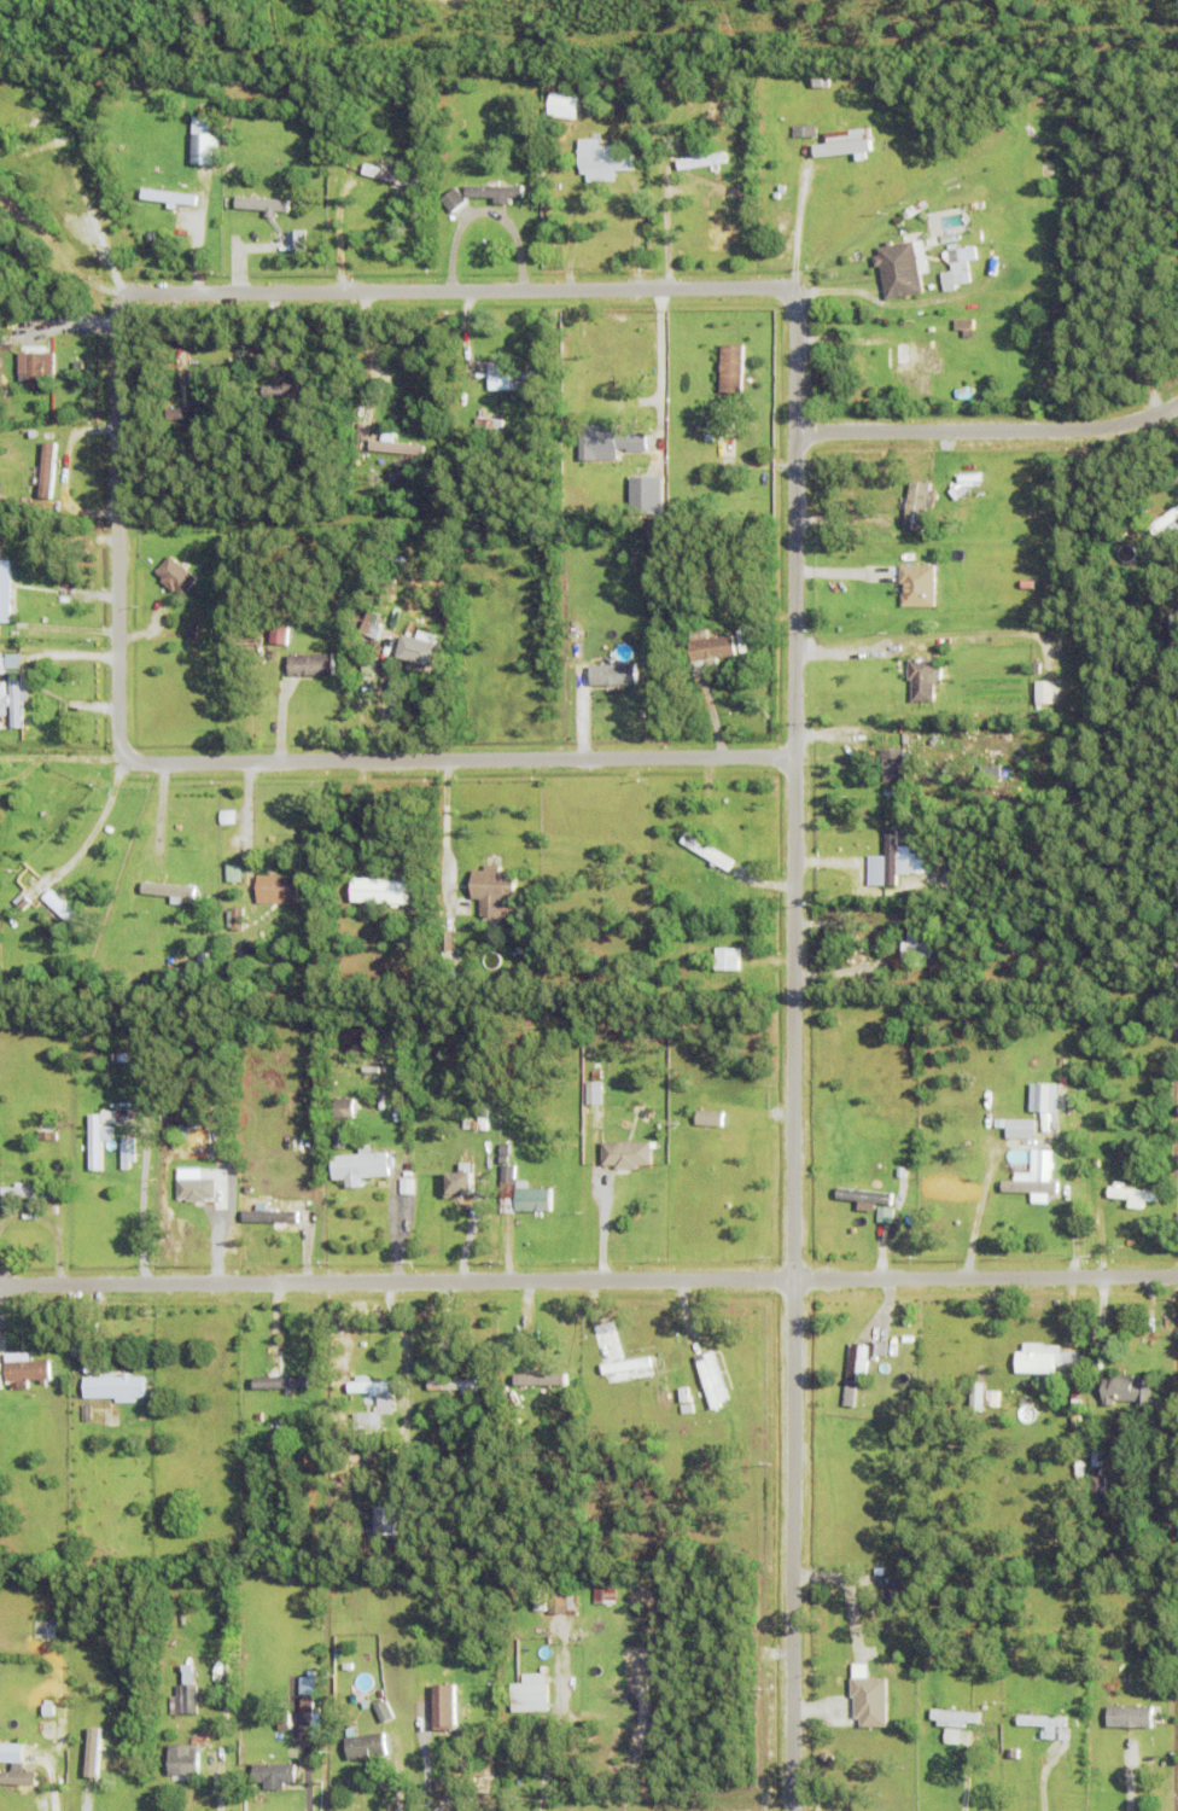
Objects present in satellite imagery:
building: (822, 81)
building: (560, 104)
building: (828, 106)
building: (804, 130)
building: (844, 144)
building: (43, 146)
building: (205, 147)
building: (602, 158)
building: (701, 161)
building: (389, 175)
road: (603, 190)
building: (494, 191)
building: (566, 192)
building: (737, 192)
building: (169, 196)
building: (453, 199)
building: (262, 204)
building: (976, 205)
building: (911, 210)
building: (151, 237)
building: (947, 237)
building: (298, 240)
building: (1172, 241)
building: (956, 266)
building: (899, 269)
road: (126, 296)
building: (964, 326)
building: (997, 326)
building: (211, 353)
building: (917, 366)
building: (730, 368)
building: (35, 369)
road: (658, 374)
building: (506, 375)
building: (282, 390)
building: (966, 391)
building: (301, 394)
building: (203, 397)
building: (187, 410)
building: (204, 413)
building: (724, 424)
building: (488, 425)
building: (69, 426)
road: (989, 429)
building: (608, 442)
building: (393, 446)
building: (45, 474)
building: (7, 489)
building: (646, 495)
building: (966, 502)
building: (917, 505)
building: (1164, 522)
building: (175, 576)
building: (840, 583)
building: (916, 586)
building: (5, 589)
building: (690, 590)
building: (748, 595)
building: (218, 599)
building: (395, 618)
building: (371, 628)
building: (279, 635)
building: (1173, 635)
building: (390, 640)
building: (740, 640)
building: (420, 651)
building: (708, 651)
building: (12, 662)
building: (310, 665)
building: (369, 669)
building: (612, 674)
building: (923, 679)
building: (1043, 692)
building: (4, 695)
building: (16, 698)
building: (949, 715)
building: (894, 765)
building: (0, 815)
building: (227, 817)
building: (707, 852)
building: (891, 858)
building: (909, 861)
building: (874, 870)
building: (233, 874)
building: (169, 890)
building: (278, 890)
building: (494, 891)
building: (380, 892)
building: (62, 908)
building: (681, 914)
building: (944, 918)
building: (237, 919)
building: (978, 934)
building: (281, 941)
building: (915, 947)
building: (729, 960)
building: (188, 1082)
building: (591, 1093)
building: (1042, 1097)
building: (344, 1110)
building: (106, 1116)
building: (710, 1119)
building: (46, 1122)
building: (1015, 1124)
building: (474, 1126)
building: (339, 1128)
building: (1021, 1134)
building: (46, 1136)
building: (95, 1141)
building: (339, 1141)
building: (310, 1142)
building: (505, 1149)
building: (127, 1152)
building: (625, 1154)
building: (503, 1160)
building: (361, 1167)
building: (1036, 1180)
building: (407, 1184)
building: (459, 1187)
building: (191, 1189)
building: (507, 1190)
building: (27, 1193)
building: (1132, 1196)
building: (532, 1199)
building: (865, 1199)
building: (315, 1200)
building: (269, 1216)
road: (601, 1225)
building: (435, 1240)
building: (275, 1251)
road: (985, 1277)
road: (396, 1282)
road: (793, 1283)
building: (908, 1340)
building: (1044, 1359)
building: (861, 1368)
building: (25, 1370)
building: (0, 1380)
building: (712, 1380)
building: (284, 1382)
building: (451, 1385)
building: (537, 1385)
building: (113, 1387)
building: (374, 1390)
building: (1129, 1391)
building: (684, 1396)
building: (1078, 1396)
building: (974, 1399)
building: (991, 1399)
building: (687, 1409)
building: (87, 1414)
building: (438, 1415)
building: (360, 1420)
building: (518, 1428)
building: (1096, 1460)
building: (1080, 1473)
building: (1098, 1487)
building: (381, 1521)
building: (911, 1568)
building: (923, 1573)
building: (573, 1580)
building: (898, 1591)
building: (605, 1595)
building: (559, 1606)
building: (449, 1614)
building: (346, 1667)
building: (449, 1673)
building: (1157, 1681)
building: (262, 1696)
building: (530, 1696)
building: (182, 1701)
building: (870, 1704)
building: (442, 1705)
building: (384, 1712)
building: (307, 1718)
building: (954, 1719)
building: (1130, 1719)
building: (284, 1720)
building: (904, 1720)
building: (1043, 1724)
building: (950, 1735)
building: (937, 1746)
building: (366, 1748)
building: (89, 1751)
building: (1016, 1755)
road: (544, 1759)
building: (183, 1761)
building: (107, 1766)
building: (16, 1775)
building: (274, 1777)
road: (1129, 1782)
building: (35, 1799)
building: (16, 1801)

